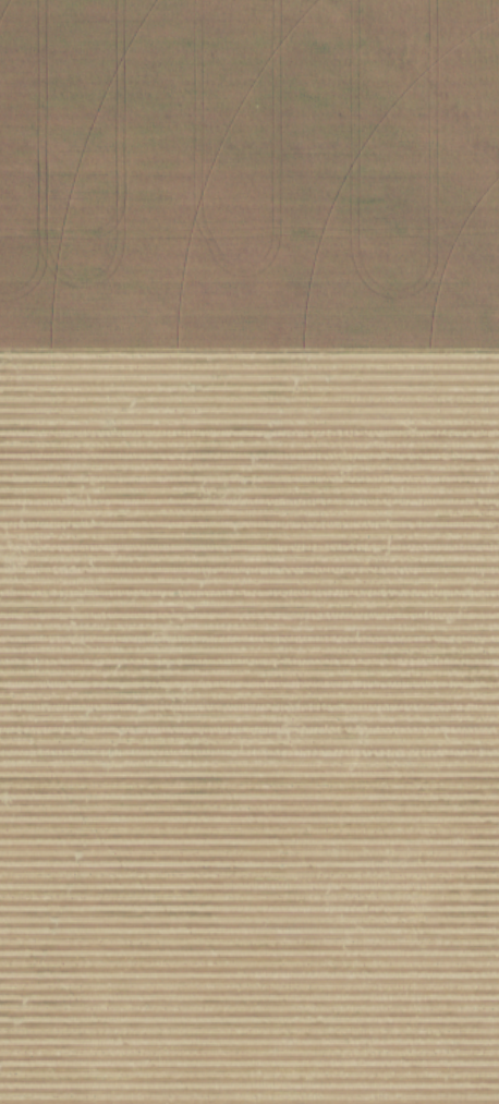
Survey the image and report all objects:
crop: (249, 724)

